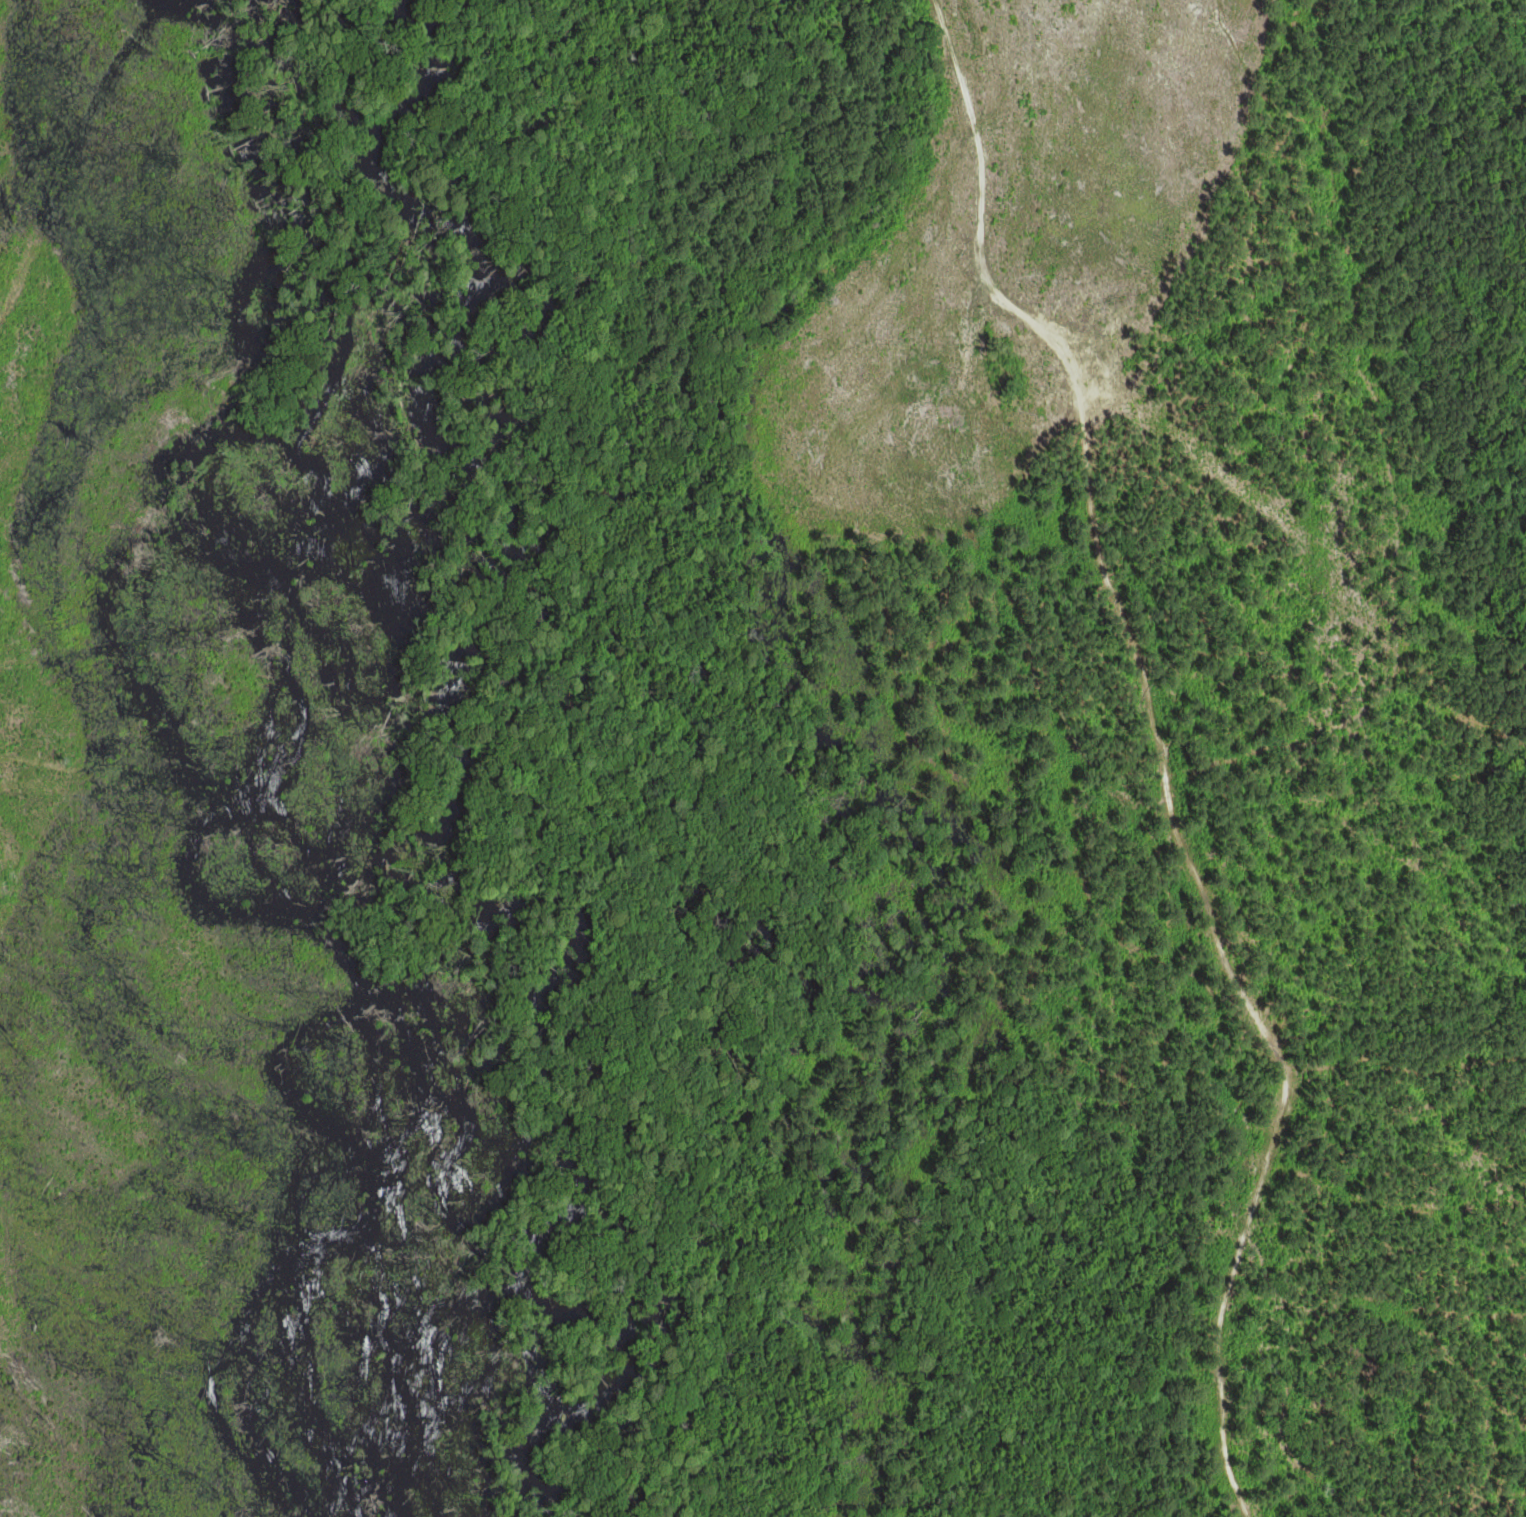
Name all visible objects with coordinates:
river: (456, 252)
river: (561, 1187)

